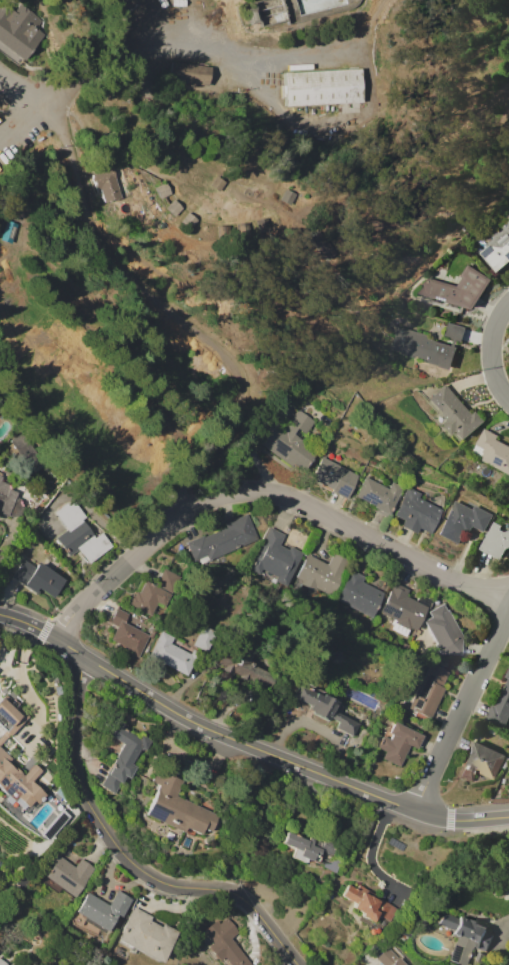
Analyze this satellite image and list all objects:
building: (117, 1)
building: (251, 17)
building: (19, 31)
road: (187, 50)
building: (189, 73)
building: (323, 87)
building: (217, 183)
building: (106, 184)
building: (162, 190)
road: (82, 199)
building: (173, 206)
building: (188, 220)
building: (10, 231)
building: (495, 243)
road: (319, 264)
building: (456, 288)
building: (428, 345)
road: (493, 352)
building: (455, 412)
building: (286, 437)
building: (19, 445)
building: (492, 451)
building: (0, 473)
building: (0, 477)
building: (334, 477)
road: (267, 493)
building: (379, 495)
building: (9, 501)
building: (416, 511)
building: (461, 521)
building: (80, 534)
building: (222, 540)
building: (495, 541)
building: (275, 558)
building: (320, 574)
building: (36, 577)
building: (154, 593)
building: (358, 593)
building: (403, 609)
road: (28, 624)
building: (439, 633)
building: (127, 634)
building: (205, 639)
building: (172, 654)
building: (445, 663)
building: (243, 665)
road: (24, 682)
building: (428, 691)
building: (500, 705)
building: (325, 708)
road: (460, 711)
building: (10, 717)
road: (321, 725)
building: (397, 743)
building: (123, 755)
road: (273, 756)
road: (187, 757)
building: (481, 762)
building: (26, 799)
building: (177, 806)
building: (395, 844)
building: (308, 847)
road: (372, 849)
road: (130, 854)
building: (66, 875)
building: (368, 903)
building: (98, 912)
road: (506, 925)
building: (146, 935)
building: (464, 936)
building: (222, 941)
building: (389, 958)
building: (2, 962)

